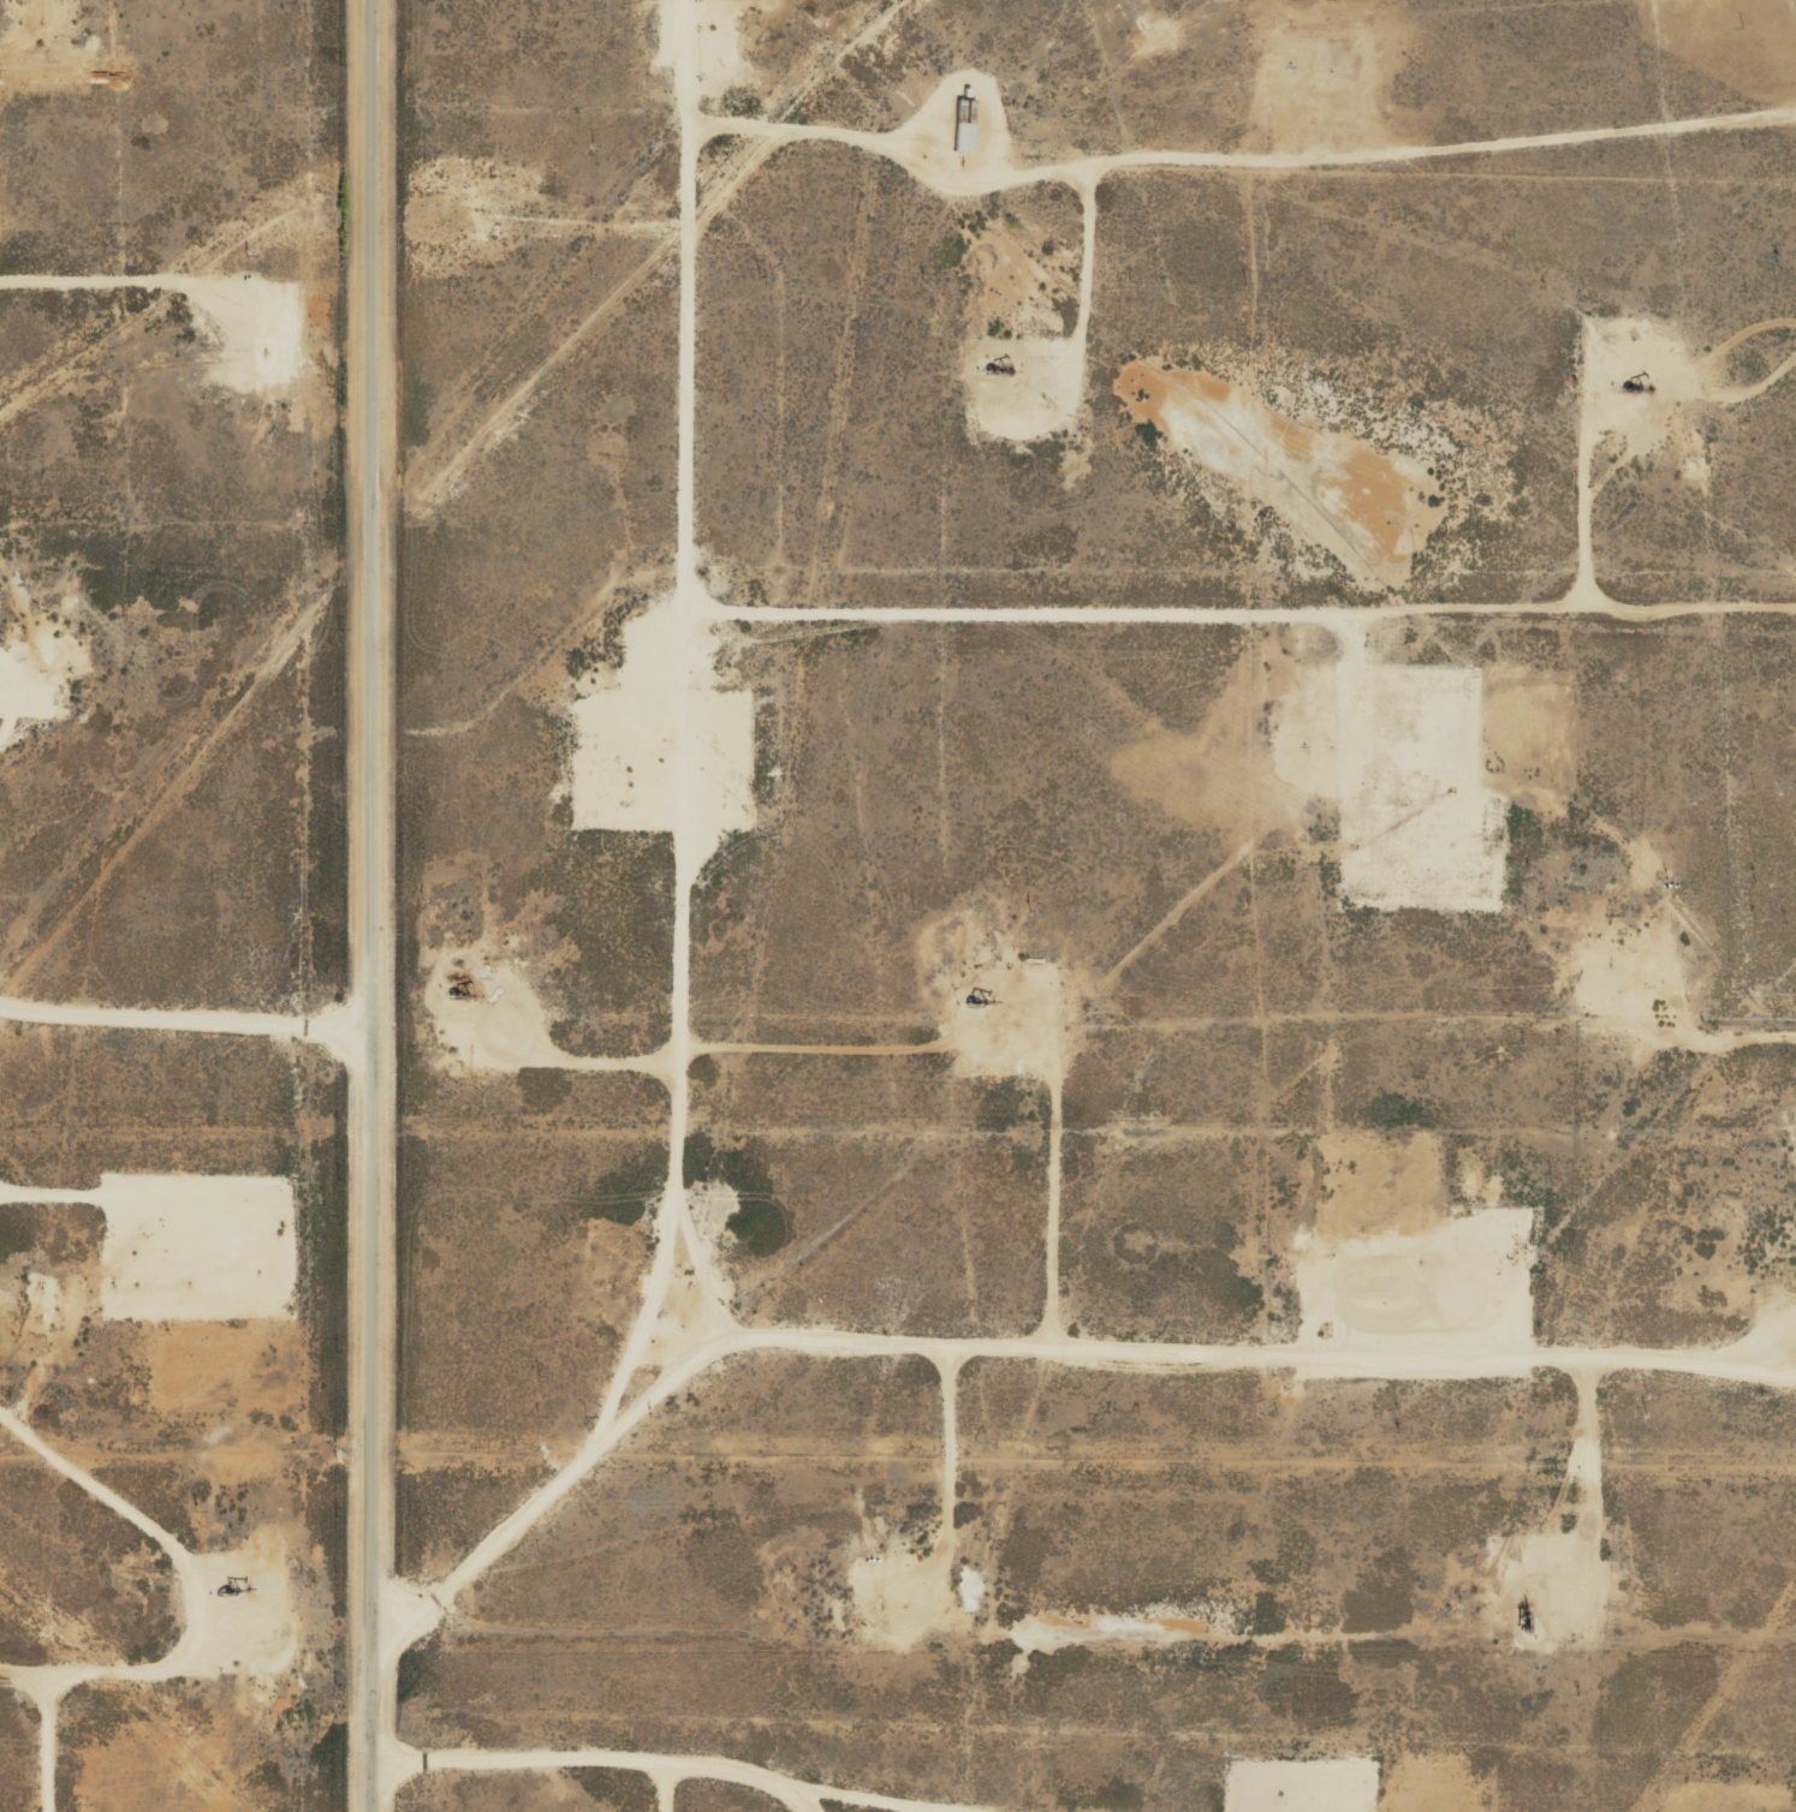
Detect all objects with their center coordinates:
road: (1239, 156)
road: (130, 278)
road: (1088, 293)
road: (1586, 527)
road: (1238, 615)
road: (369, 906)
road: (184, 1007)
road: (686, 1019)
road: (1243, 1333)
road: (163, 1526)
road: (702, 1783)

